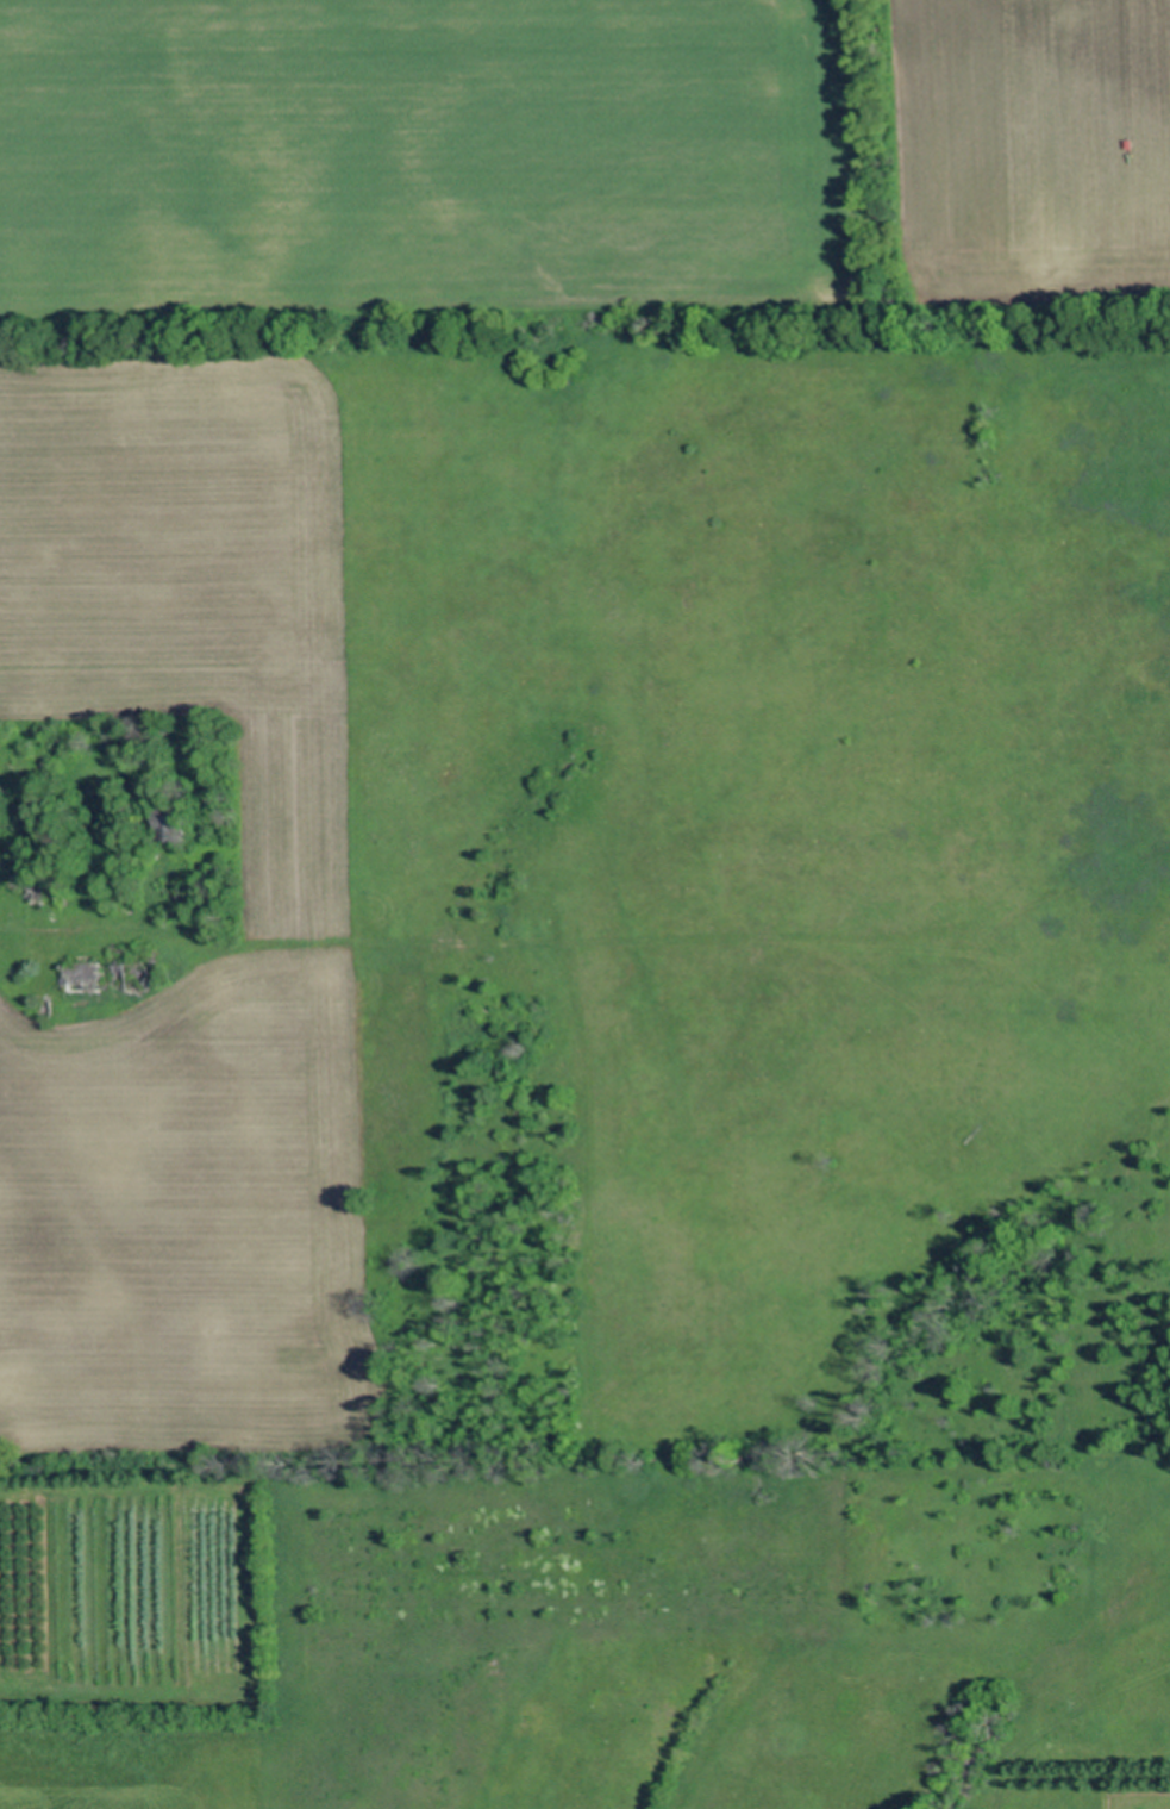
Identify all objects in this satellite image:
crop: (588, 1639)

